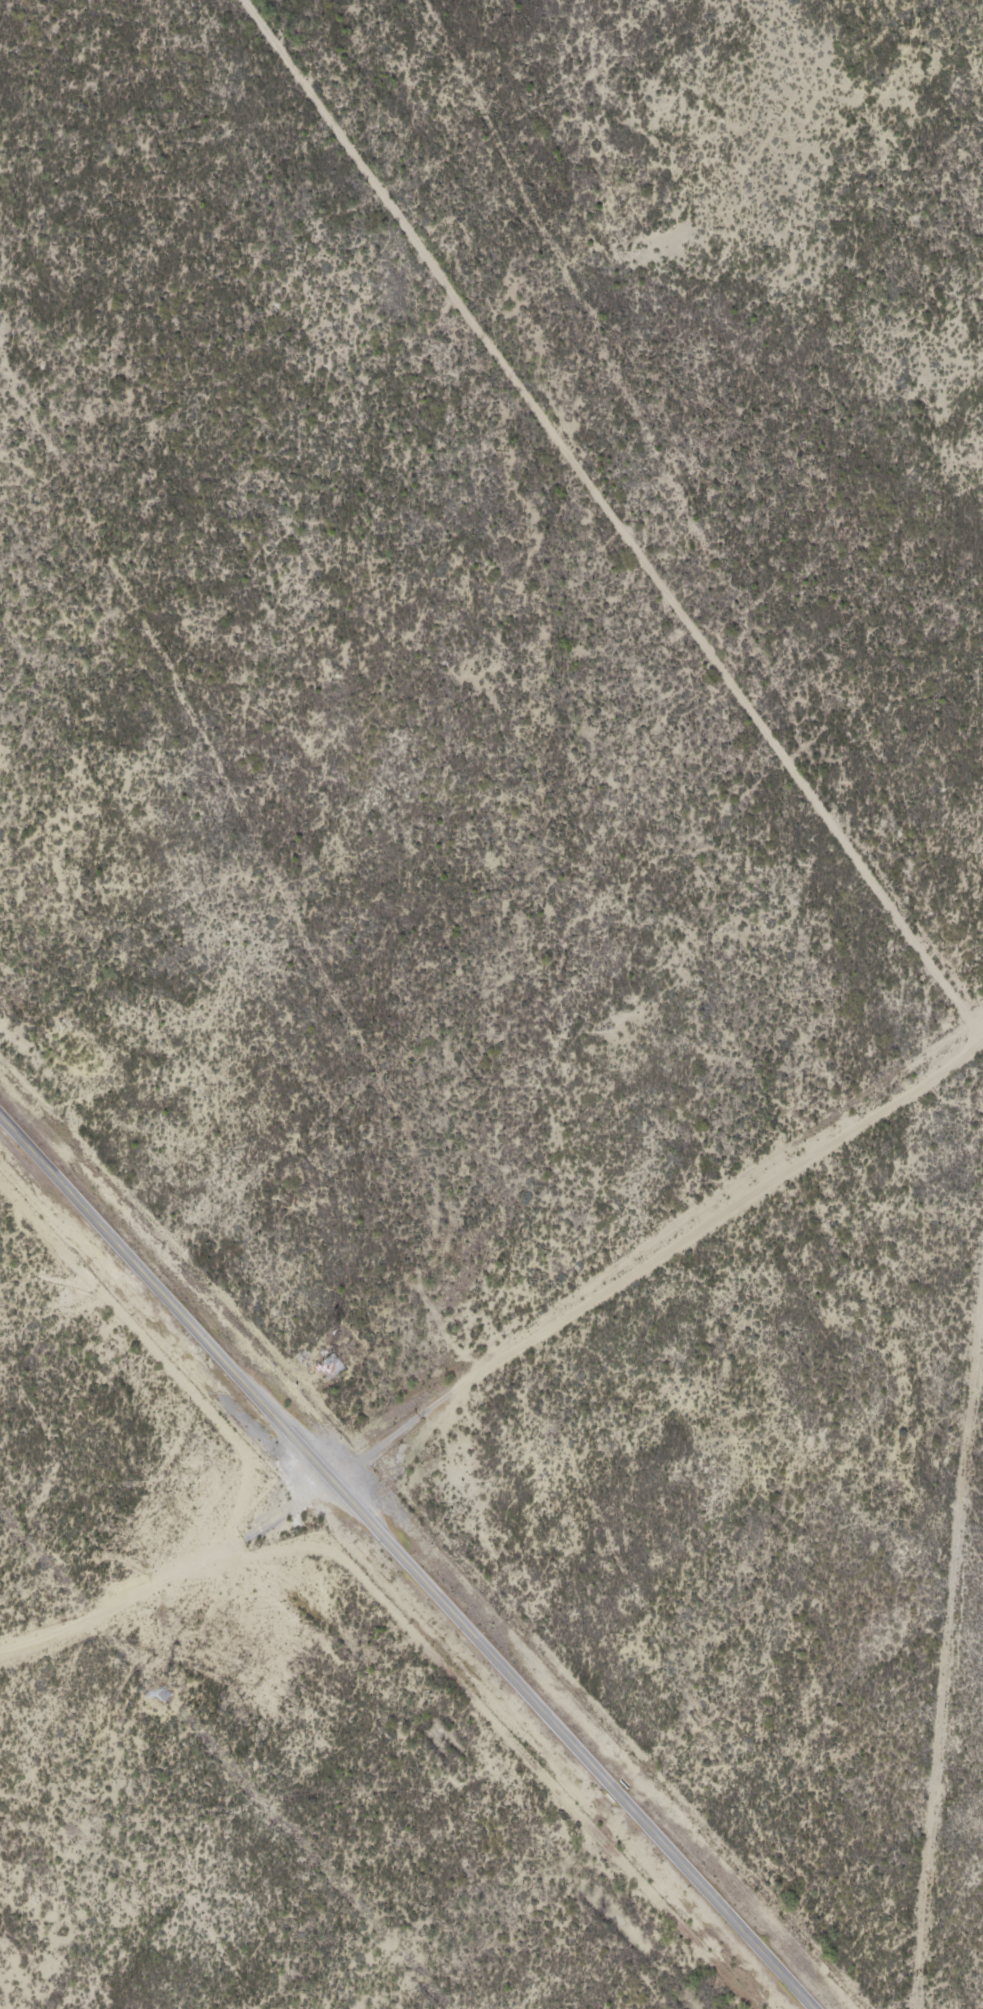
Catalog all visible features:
power tower: (160, 1694)

